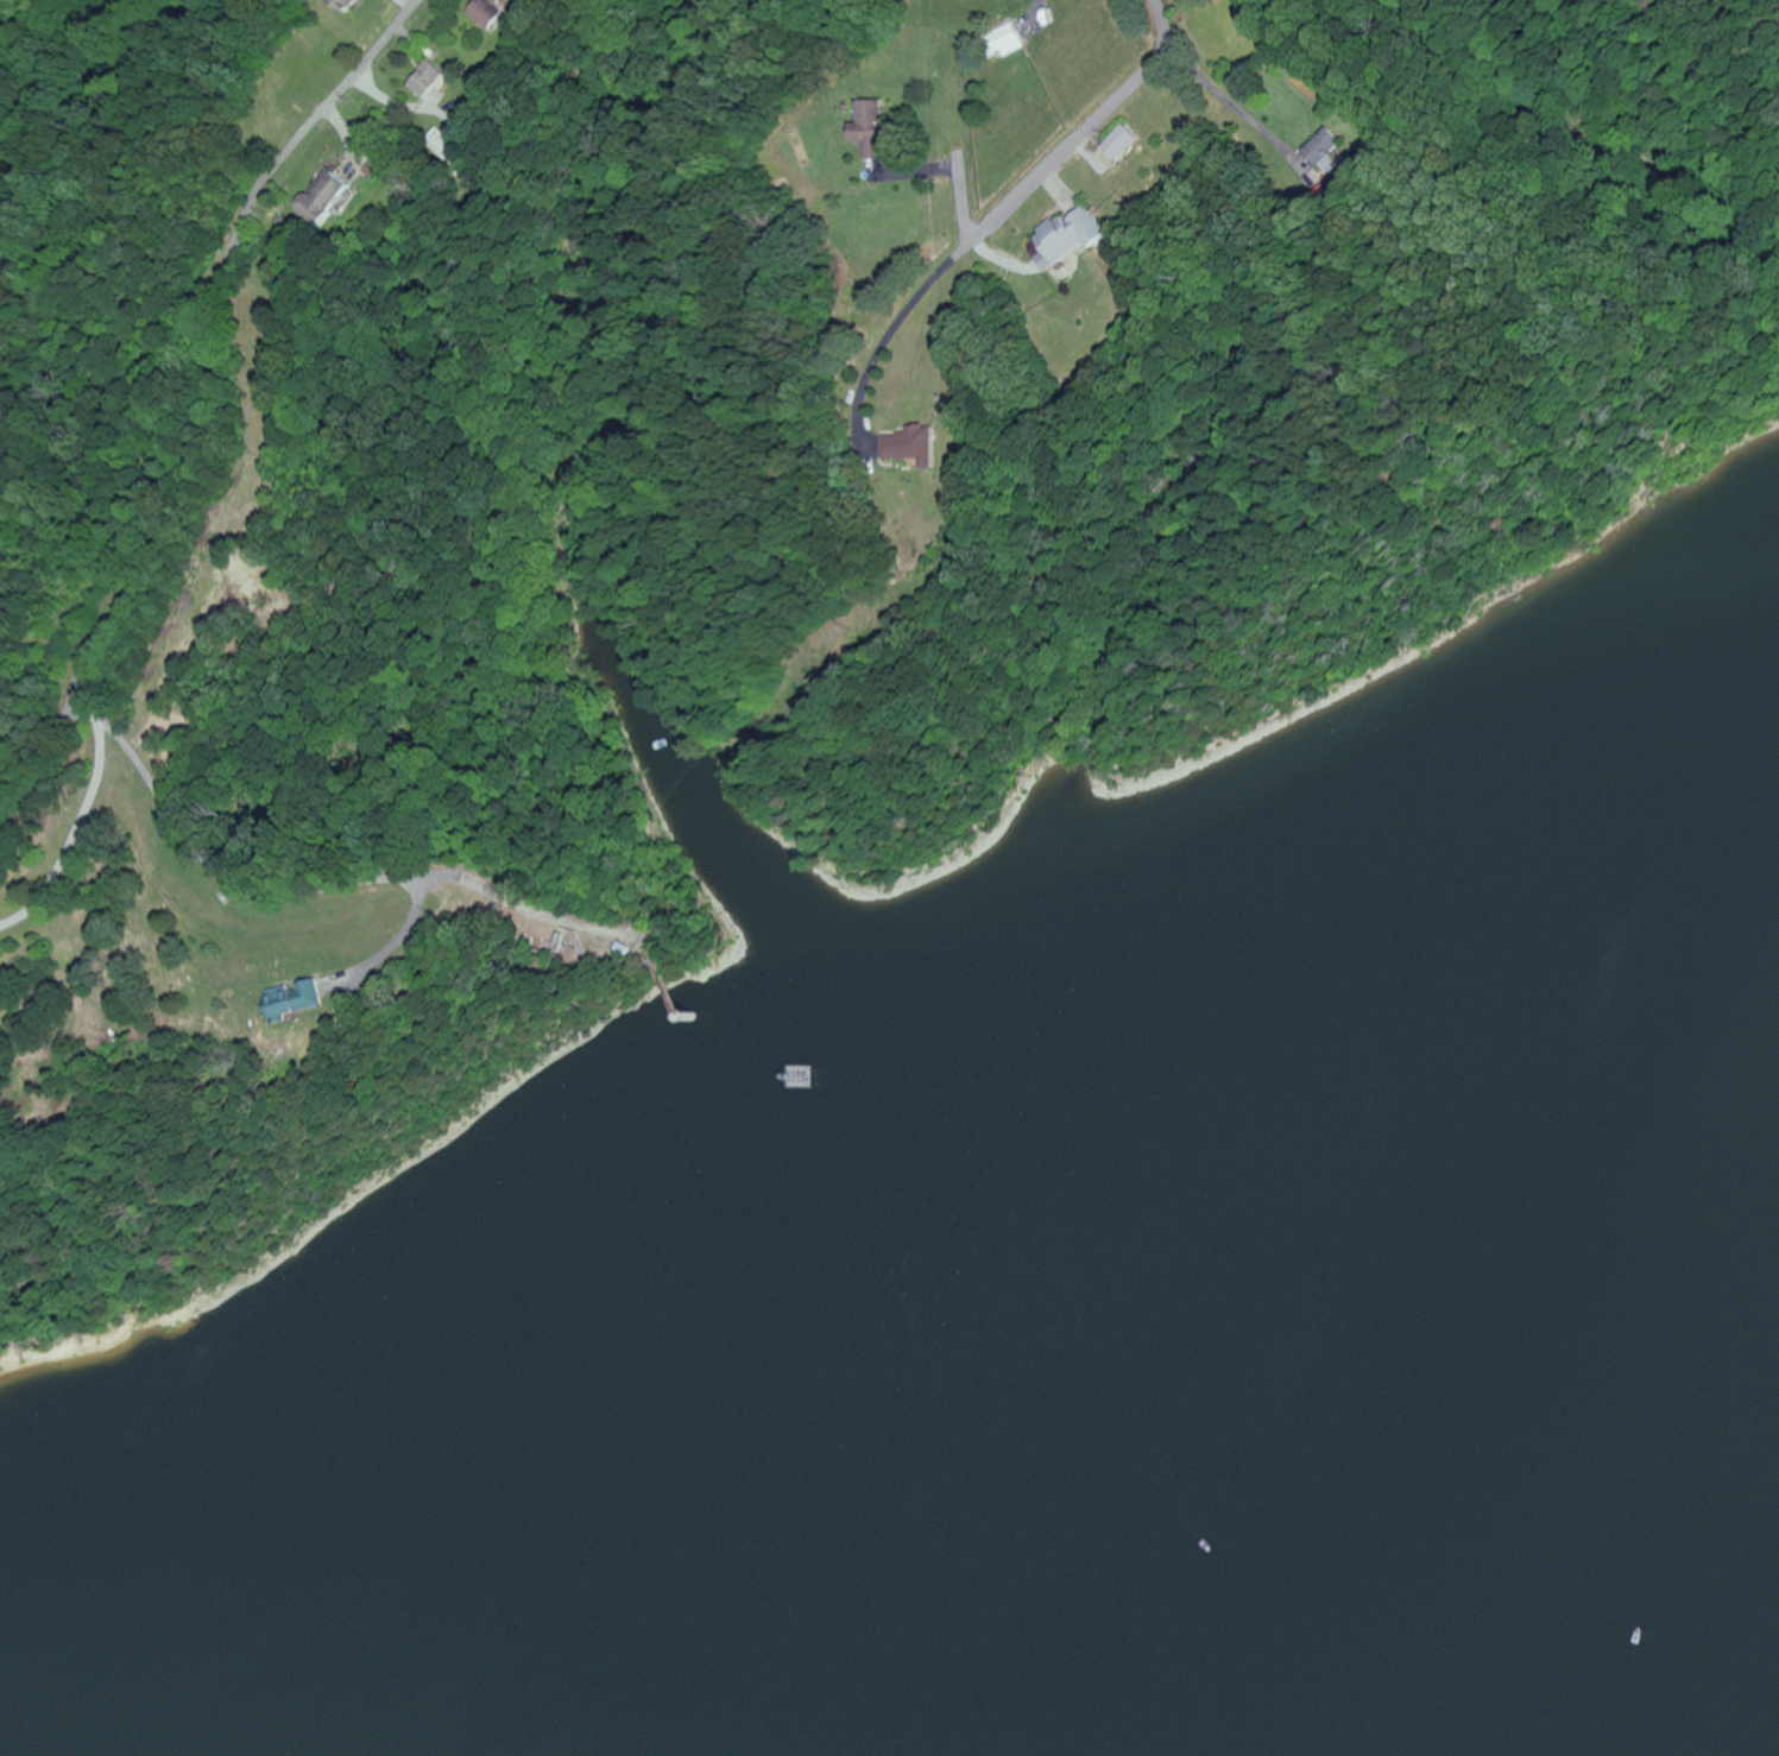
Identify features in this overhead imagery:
building: (348, 4)
building: (491, 12)
building: (1011, 38)
building: (434, 78)
building: (876, 127)
building: (447, 140)
building: (1124, 140)
building: (1331, 150)
road: (1060, 154)
building: (333, 196)
building: (1072, 236)
road: (890, 333)
building: (917, 444)
road: (160, 532)
road: (75, 832)
building: (298, 998)

